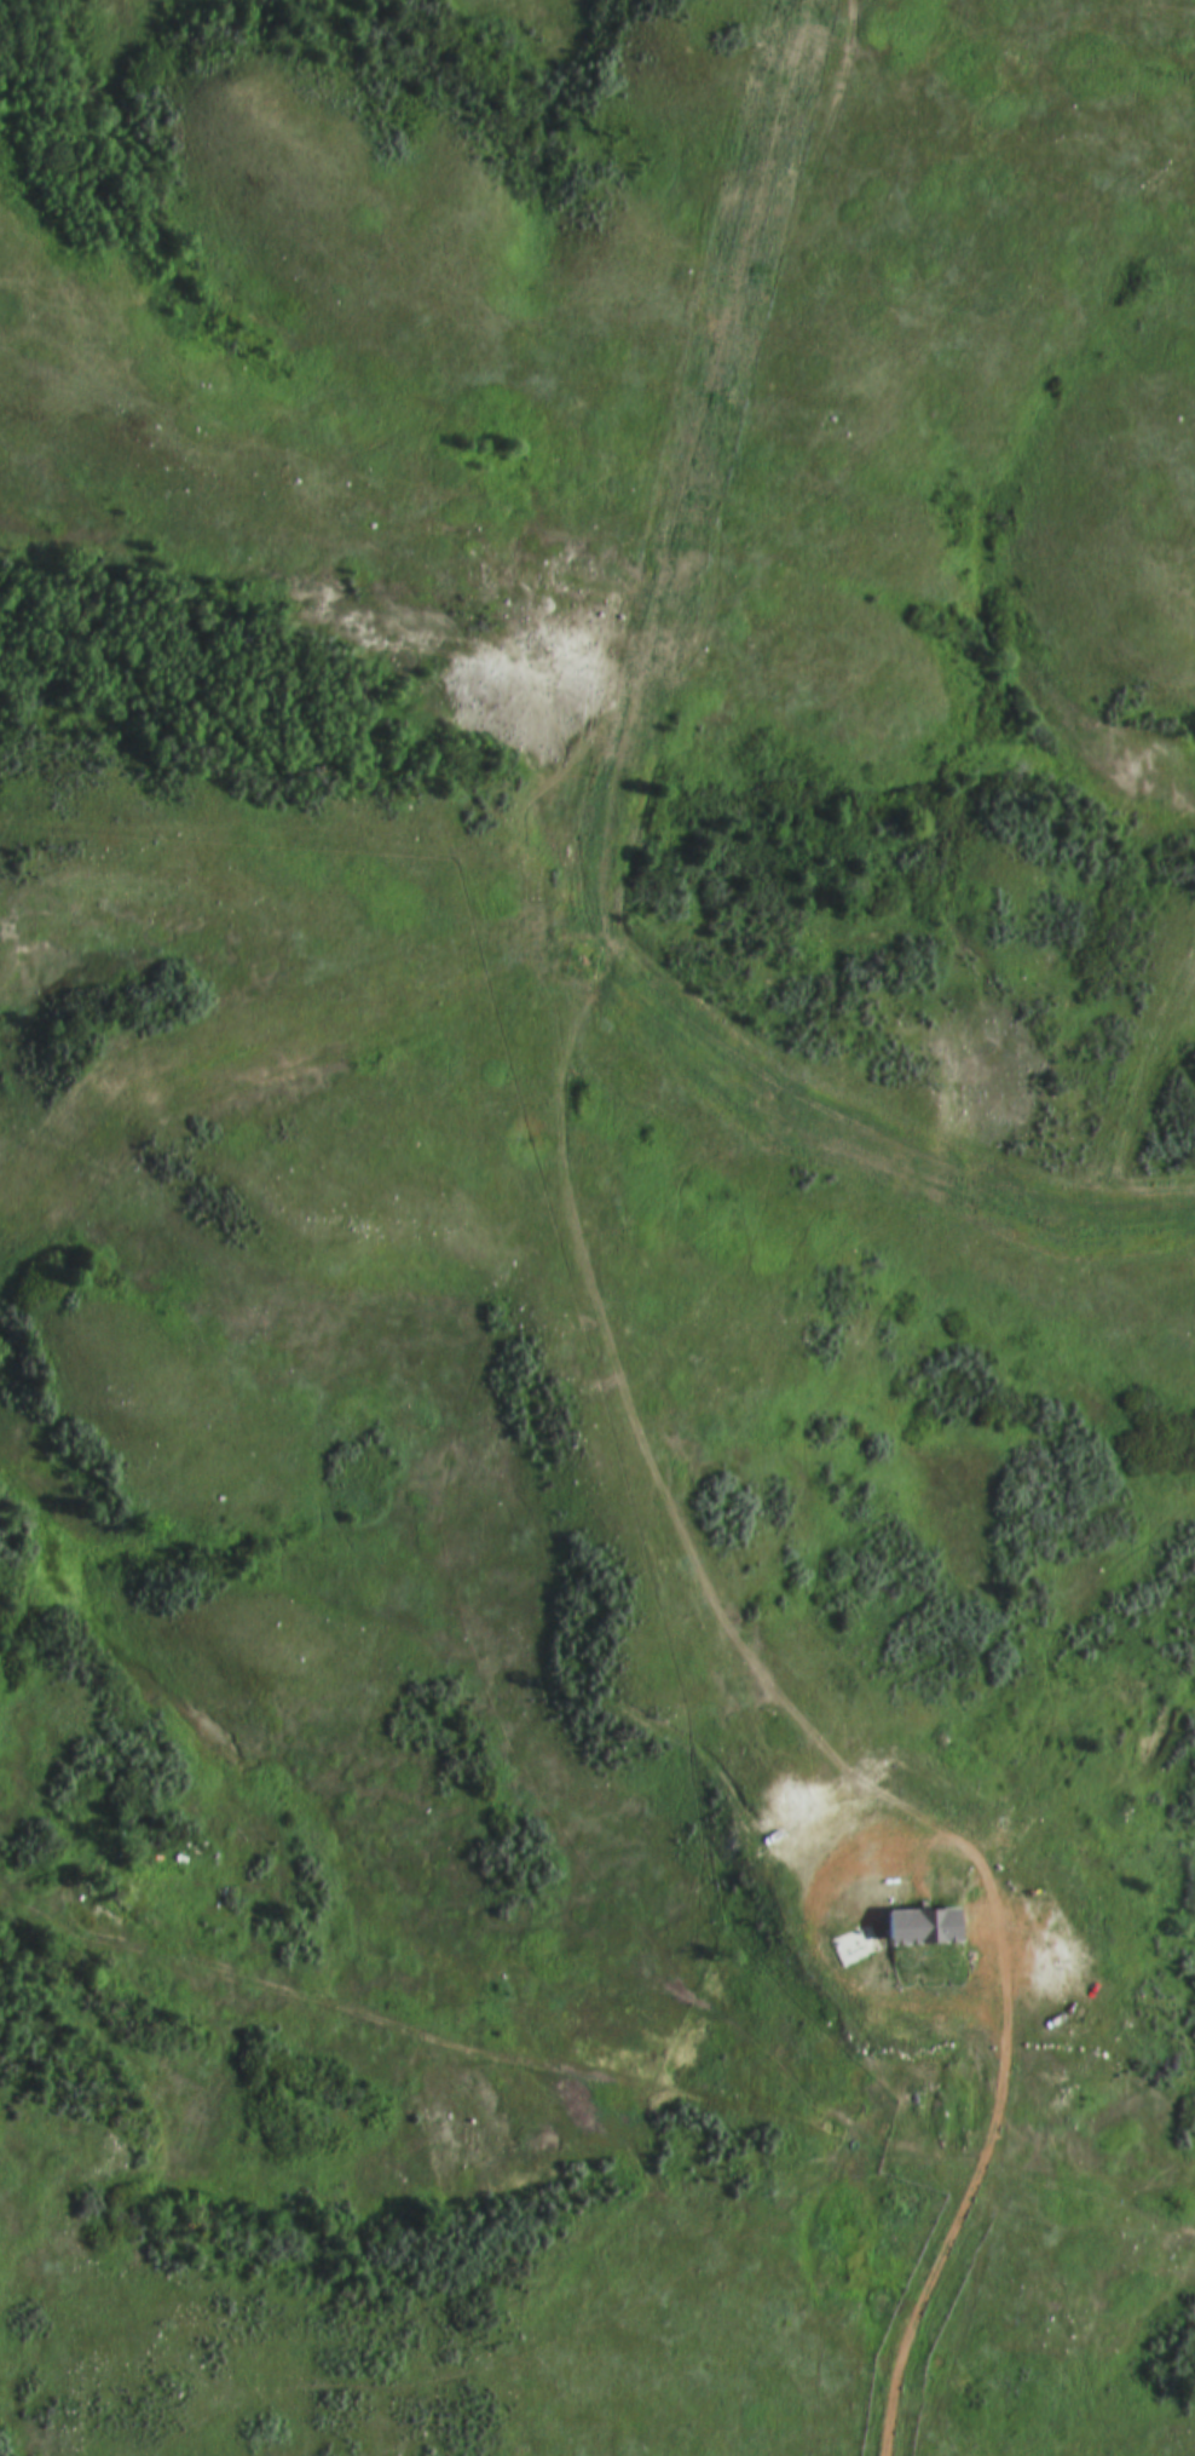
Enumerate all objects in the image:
building: (923, 1920)

